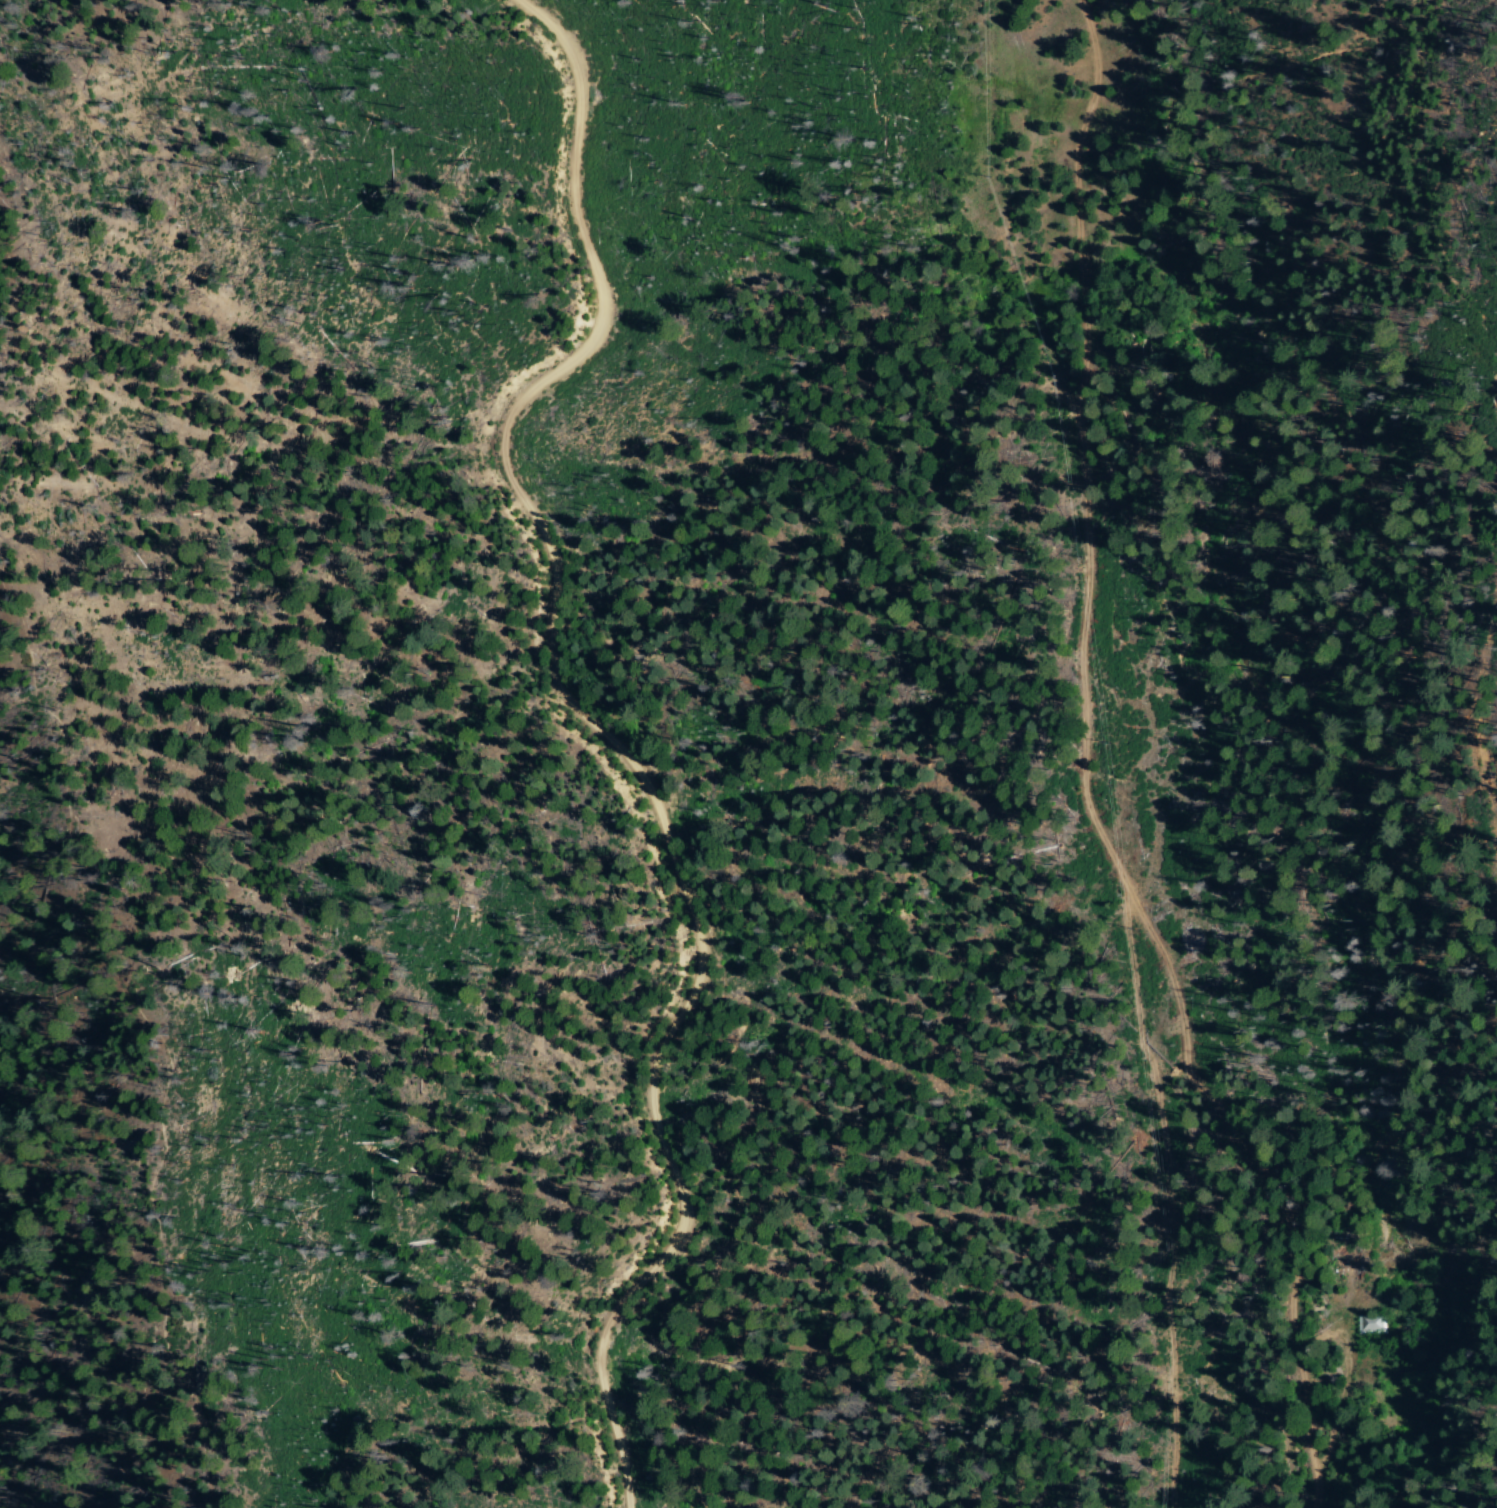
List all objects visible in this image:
road: (602, 733)
road: (1099, 808)
building: (1370, 1323)

